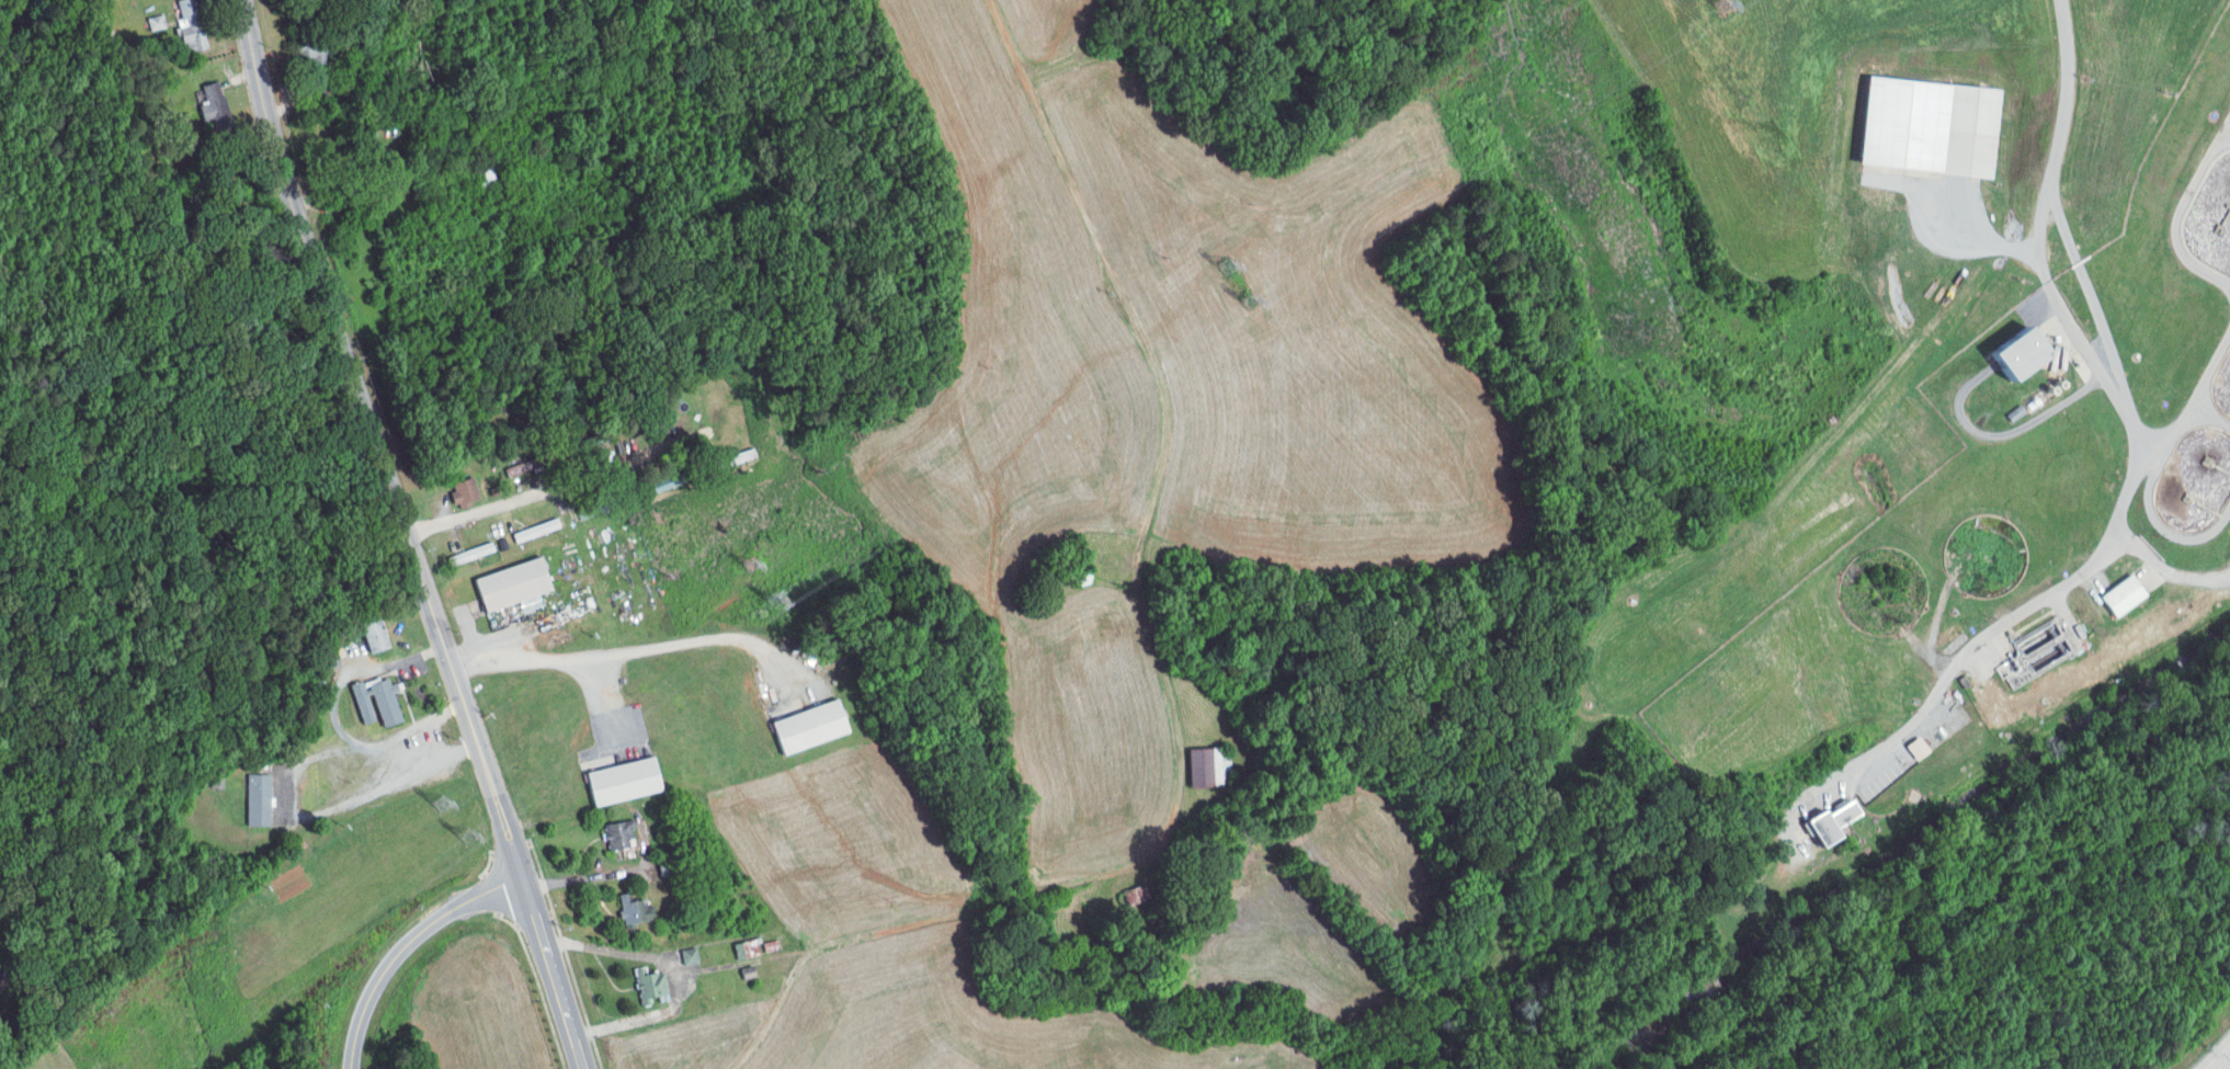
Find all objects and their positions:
power tower: (1725, 3)
building: (191, 22)
road: (2066, 93)
building: (214, 102)
building: (1916, 125)
road: (1027, 150)
road: (1926, 202)
power tower: (1226, 266)
road: (2090, 298)
power tower: (1249, 302)
building: (2004, 353)
road: (2087, 359)
road: (2000, 435)
building: (541, 460)
road: (556, 486)
building: (467, 491)
building: (538, 530)
road: (406, 535)
power tower: (752, 566)
road: (2165, 568)
building: (516, 583)
building: (2115, 596)
power tower: (770, 602)
building: (532, 603)
building: (377, 636)
road: (625, 653)
road: (1955, 657)
road: (351, 673)
road: (608, 698)
building: (378, 701)
building: (815, 726)
building: (1208, 766)
building: (623, 781)
road: (286, 798)
building: (260, 799)
power tower: (441, 806)
building: (1820, 822)
building: (622, 834)
power tower: (466, 838)
road: (613, 876)
building: (636, 909)
building: (772, 945)
road: (403, 947)
building: (747, 949)
building: (692, 955)
road: (675, 970)
building: (750, 971)
building: (655, 985)
road: (2225, 1064)

